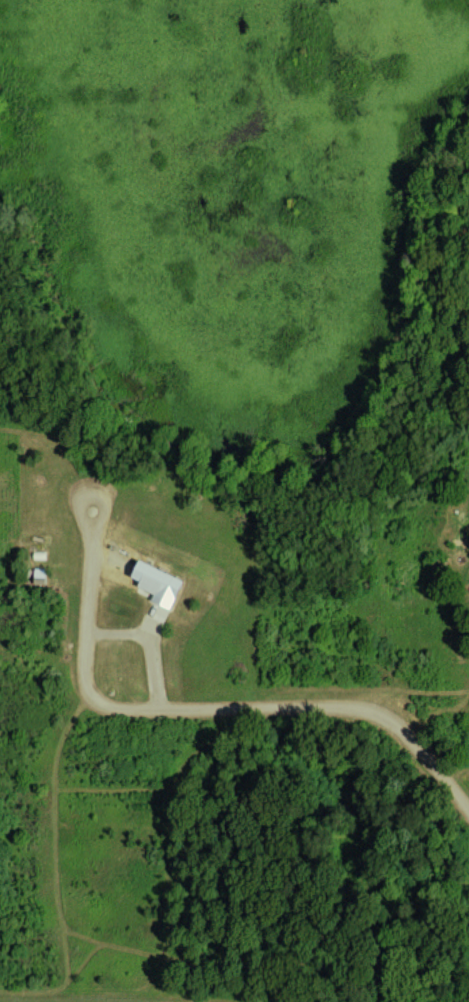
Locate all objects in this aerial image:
building: (154, 583)
road: (150, 641)
road: (221, 706)

